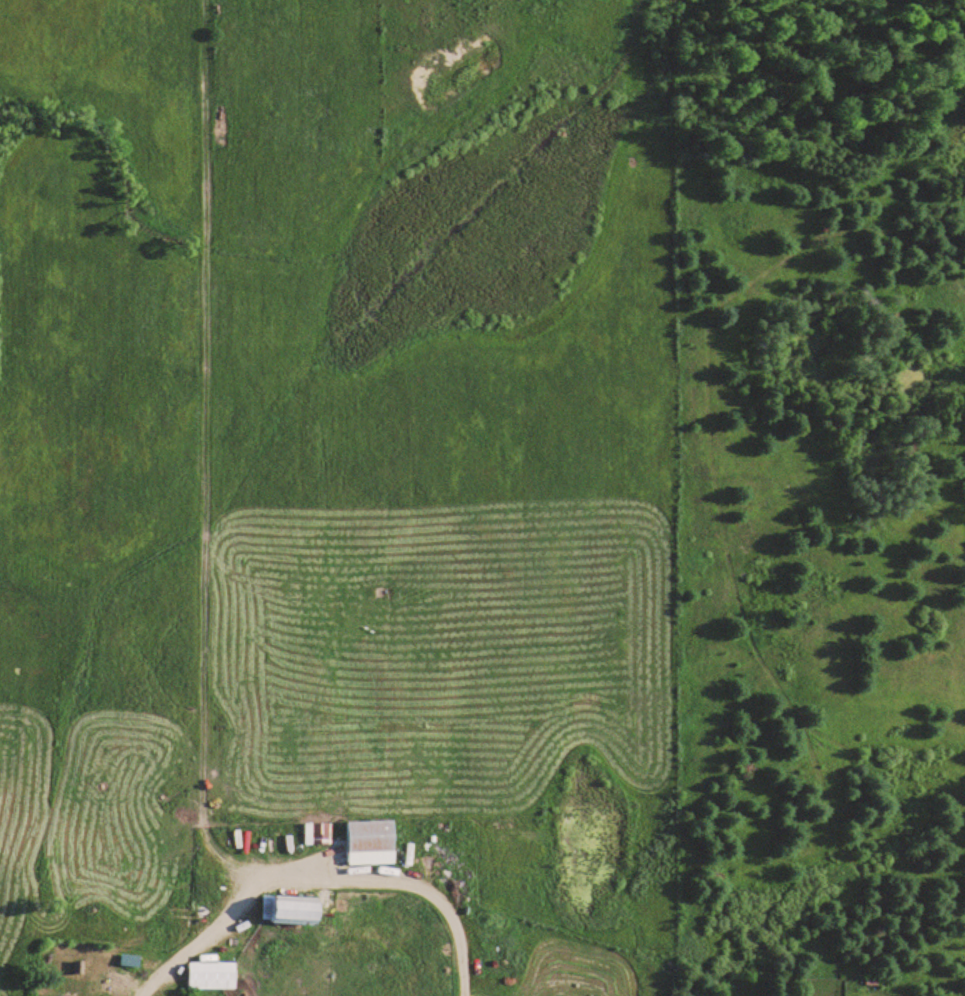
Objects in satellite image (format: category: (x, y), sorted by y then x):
building: (313, 832)
building: (372, 842)
building: (293, 909)
building: (212, 975)

